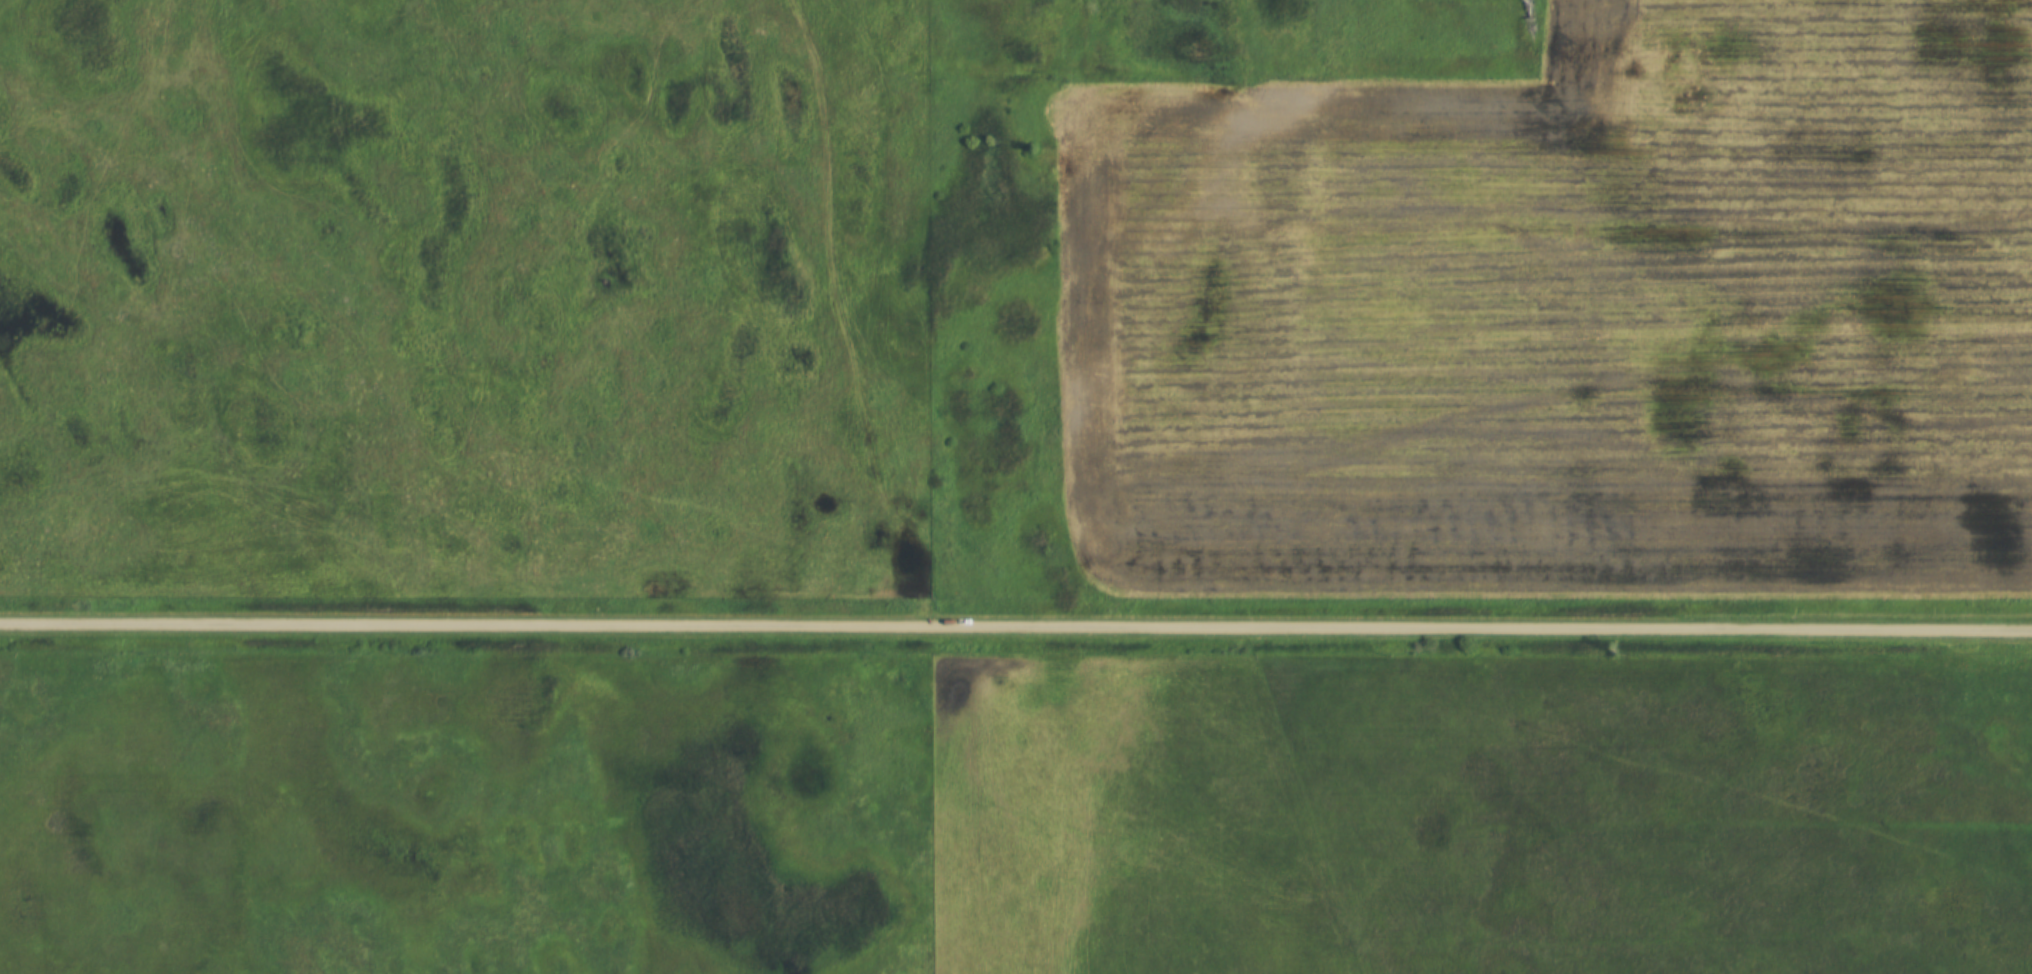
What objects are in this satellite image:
road: (1015, 628)

